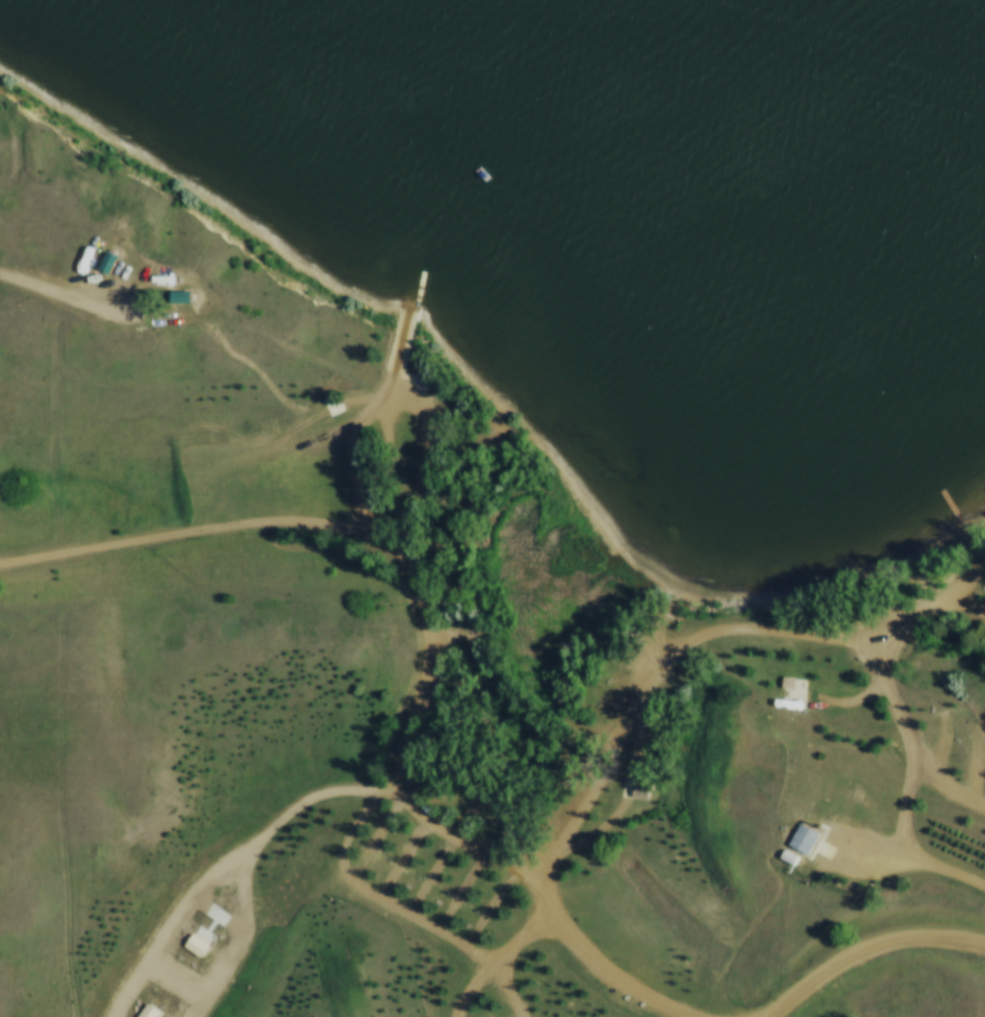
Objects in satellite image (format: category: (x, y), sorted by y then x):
road: (212, 525)
road: (971, 607)
road: (701, 636)
building: (796, 686)
building: (640, 792)
building: (472, 801)
road: (868, 948)

